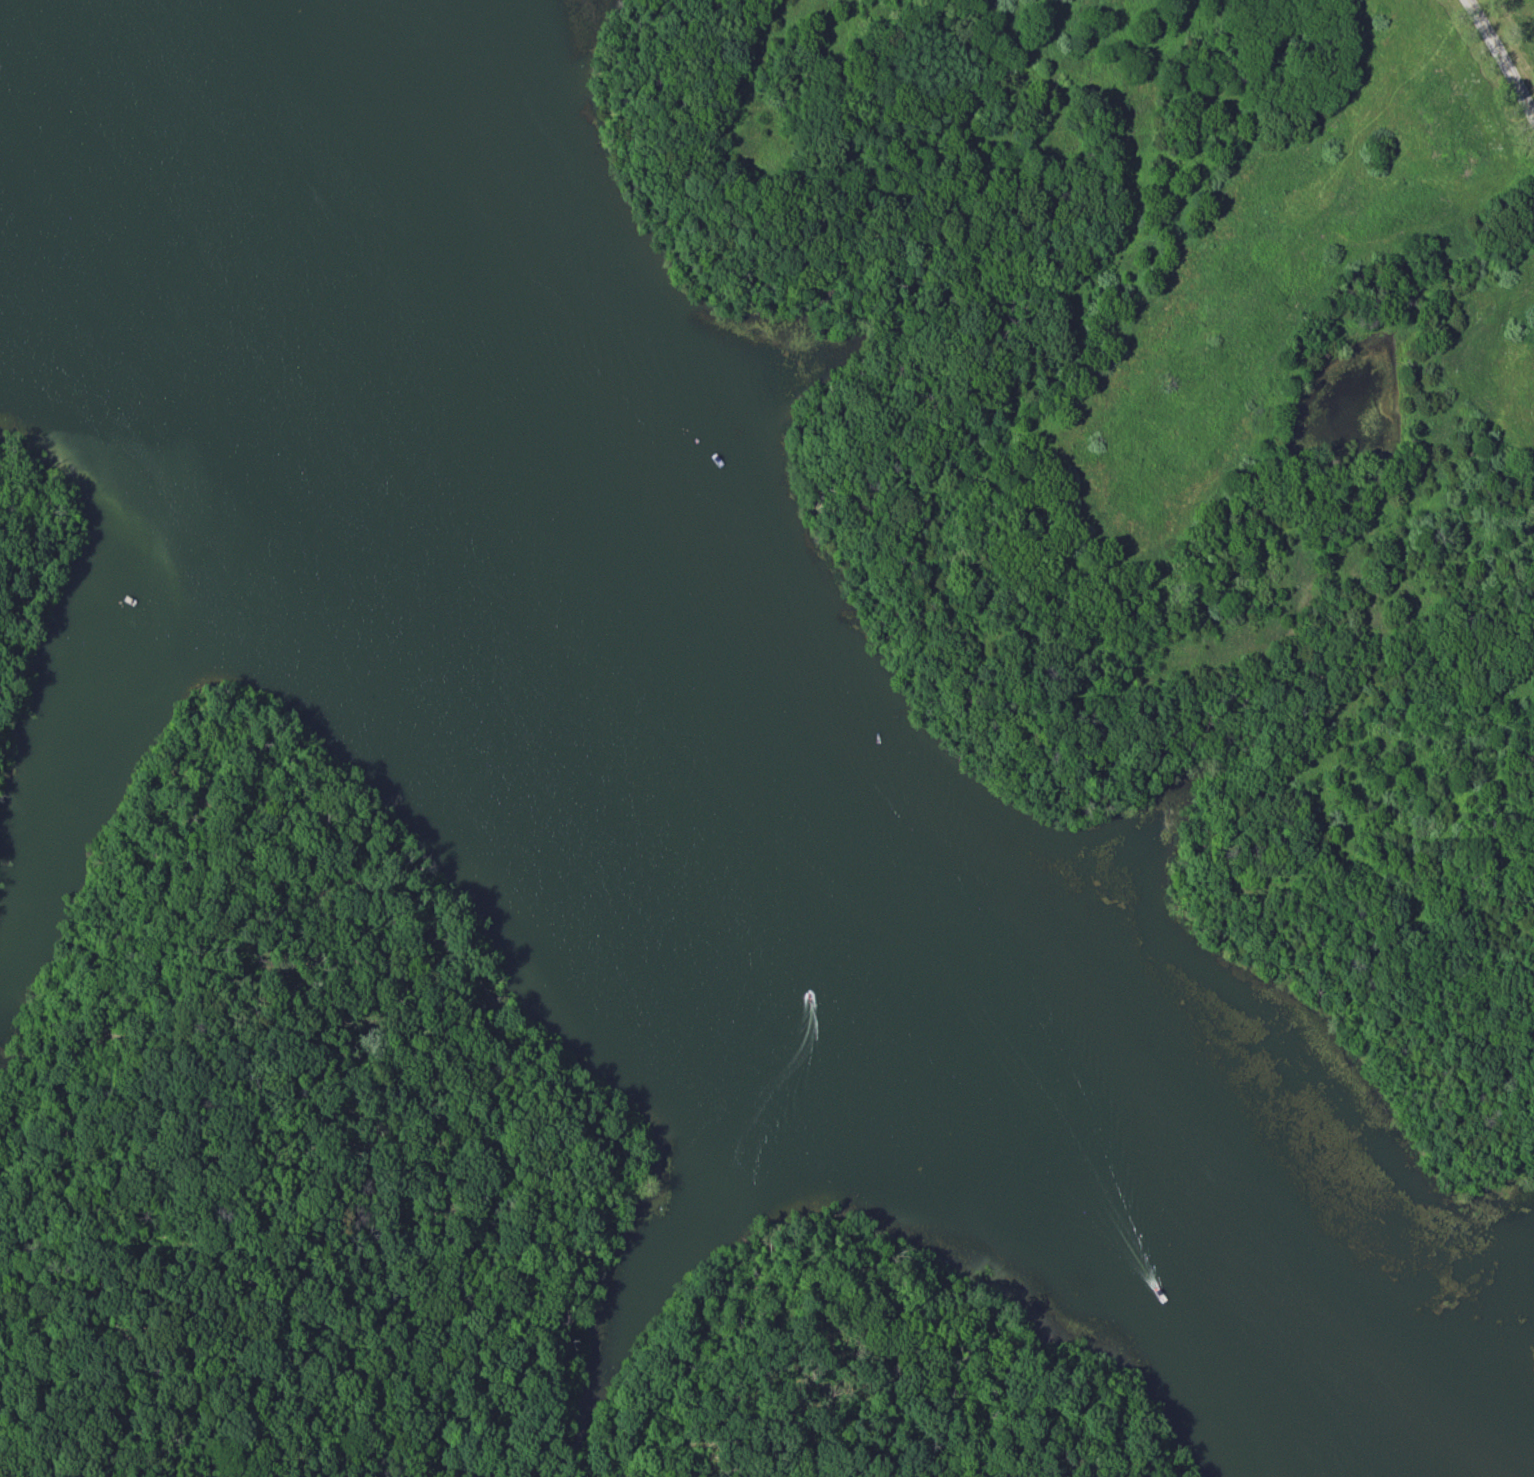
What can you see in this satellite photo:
park: (1511, 39)
road: (1501, 60)
park: (767, 738)
road: (344, 1014)
road: (868, 1327)

